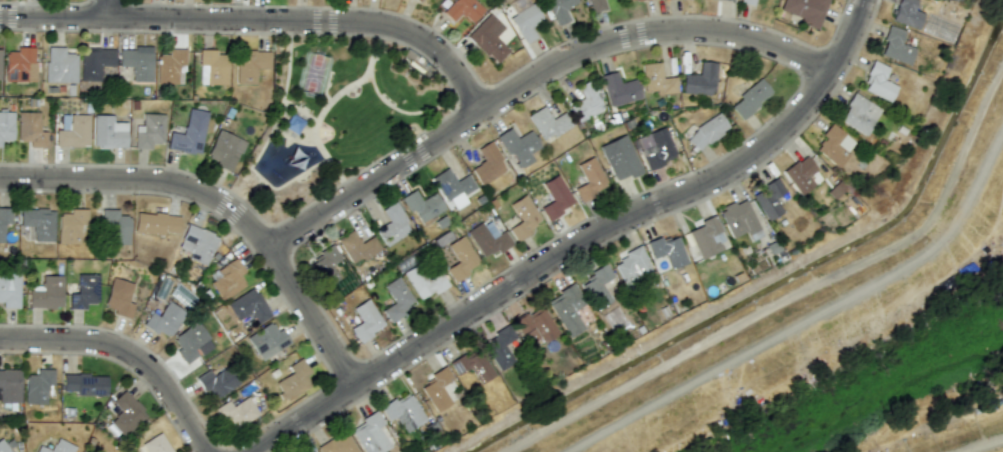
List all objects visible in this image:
building: (418, 0)
building: (631, 0)
building: (747, 2)
building: (596, 5)
road: (107, 9)
building: (463, 9)
building: (559, 10)
building: (805, 10)
building: (907, 13)
road: (258, 22)
building: (525, 22)
building: (488, 38)
building: (896, 46)
building: (0, 57)
building: (94, 62)
building: (137, 63)
building: (19, 64)
building: (59, 65)
building: (169, 65)
building: (250, 65)
building: (212, 67)
road: (532, 79)
building: (657, 79)
building: (700, 80)
building: (878, 82)
building: (619, 89)
building: (750, 98)
building: (586, 102)
building: (859, 114)
building: (547, 123)
building: (6, 127)
building: (30, 129)
building: (149, 131)
building: (706, 131)
building: (73, 132)
building: (108, 132)
building: (189, 134)
building: (834, 145)
building: (518, 147)
building: (655, 148)
building: (224, 150)
building: (620, 157)
building: (488, 163)
building: (800, 174)
building: (590, 180)
building: (453, 188)
building: (555, 197)
building: (769, 199)
road: (222, 204)
building: (422, 205)
building: (522, 217)
building: (4, 220)
building: (739, 220)
building: (38, 223)
building: (155, 223)
building: (392, 225)
building: (71, 226)
building: (114, 227)
building: (706, 237)
building: (488, 238)
road: (580, 241)
building: (196, 244)
building: (357, 247)
building: (667, 251)
building: (460, 258)
building: (324, 266)
building: (632, 267)
building: (227, 278)
building: (425, 280)
building: (599, 285)
building: (9, 291)
building: (85, 291)
building: (46, 293)
road: (794, 293)
building: (119, 298)
building: (397, 299)
building: (248, 306)
building: (567, 309)
road: (815, 315)
building: (163, 319)
building: (365, 320)
building: (535, 326)
building: (267, 340)
building: (191, 342)
building: (502, 349)
road: (126, 354)
building: (472, 365)
building: (294, 380)
building: (216, 381)
building: (85, 384)
building: (9, 386)
building: (37, 386)
building: (437, 389)
building: (126, 413)
building: (235, 413)
building: (403, 413)
building: (371, 434)
building: (156, 444)
building: (338, 444)
road: (985, 445)
building: (3, 446)
building: (57, 447)
building: (313, 451)

